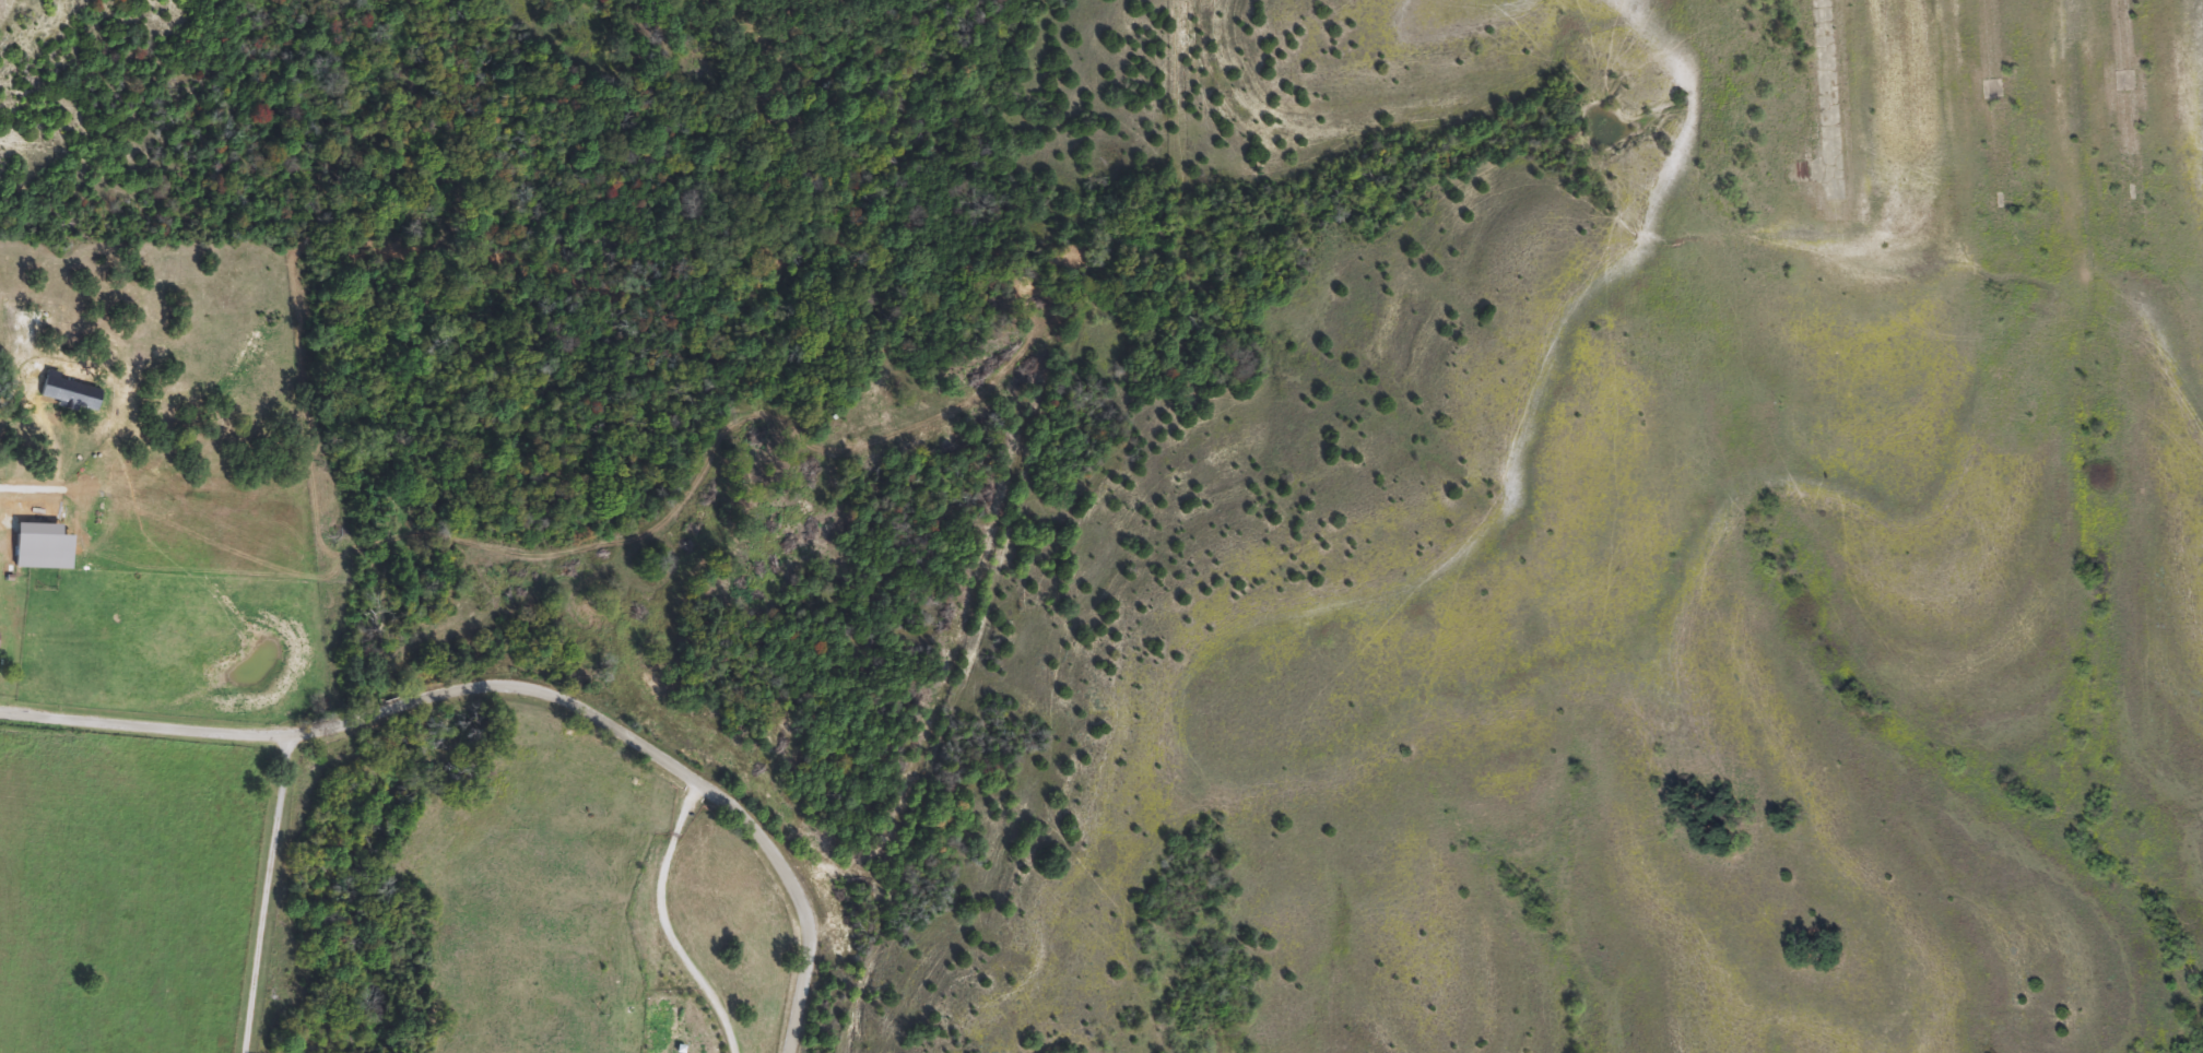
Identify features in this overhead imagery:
road: (2049, 90)
airport: (1931, 169)
building: (33, 546)
road: (518, 685)
road: (269, 896)
road: (660, 919)

